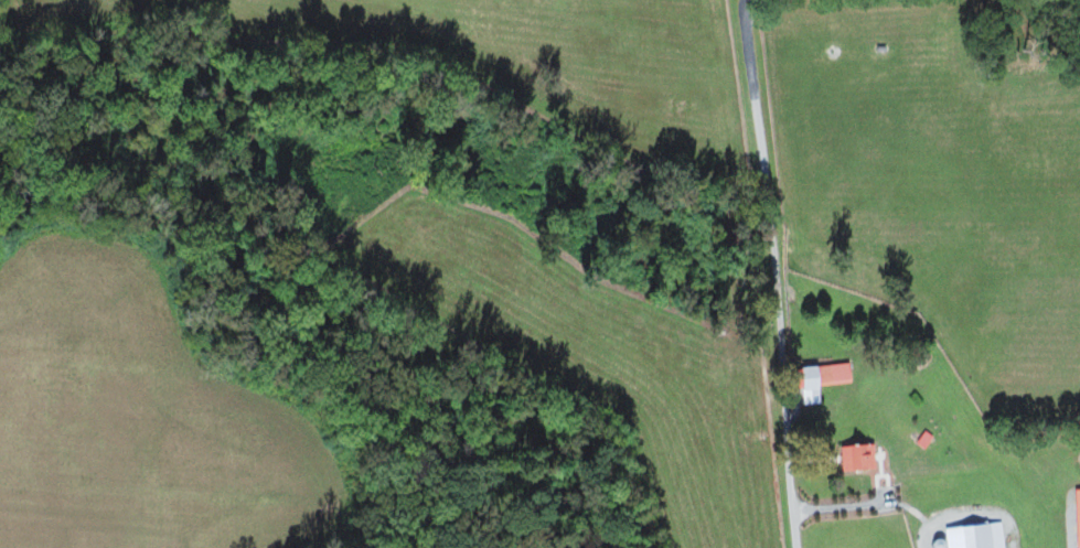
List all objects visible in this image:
building: (824, 379)
building: (859, 456)
road: (824, 468)
building: (1078, 514)
building: (976, 536)

